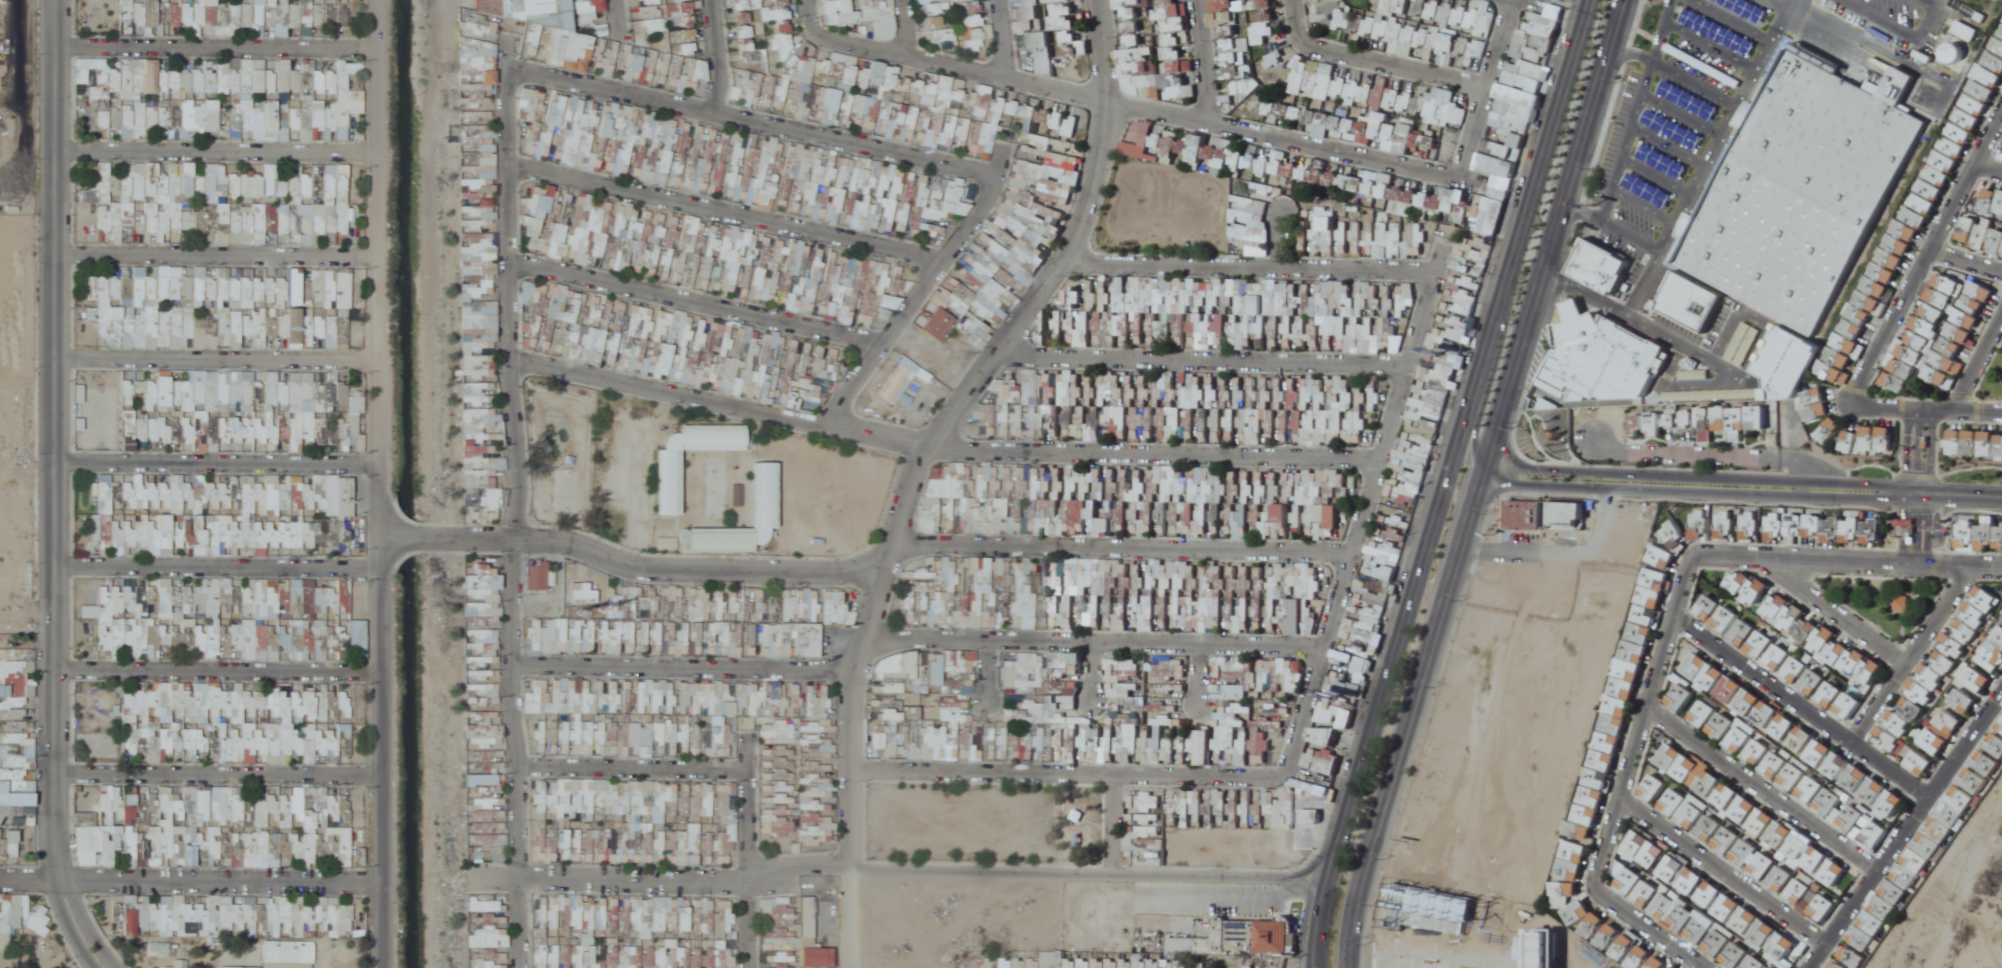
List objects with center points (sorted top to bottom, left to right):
park: (1878, 596)

